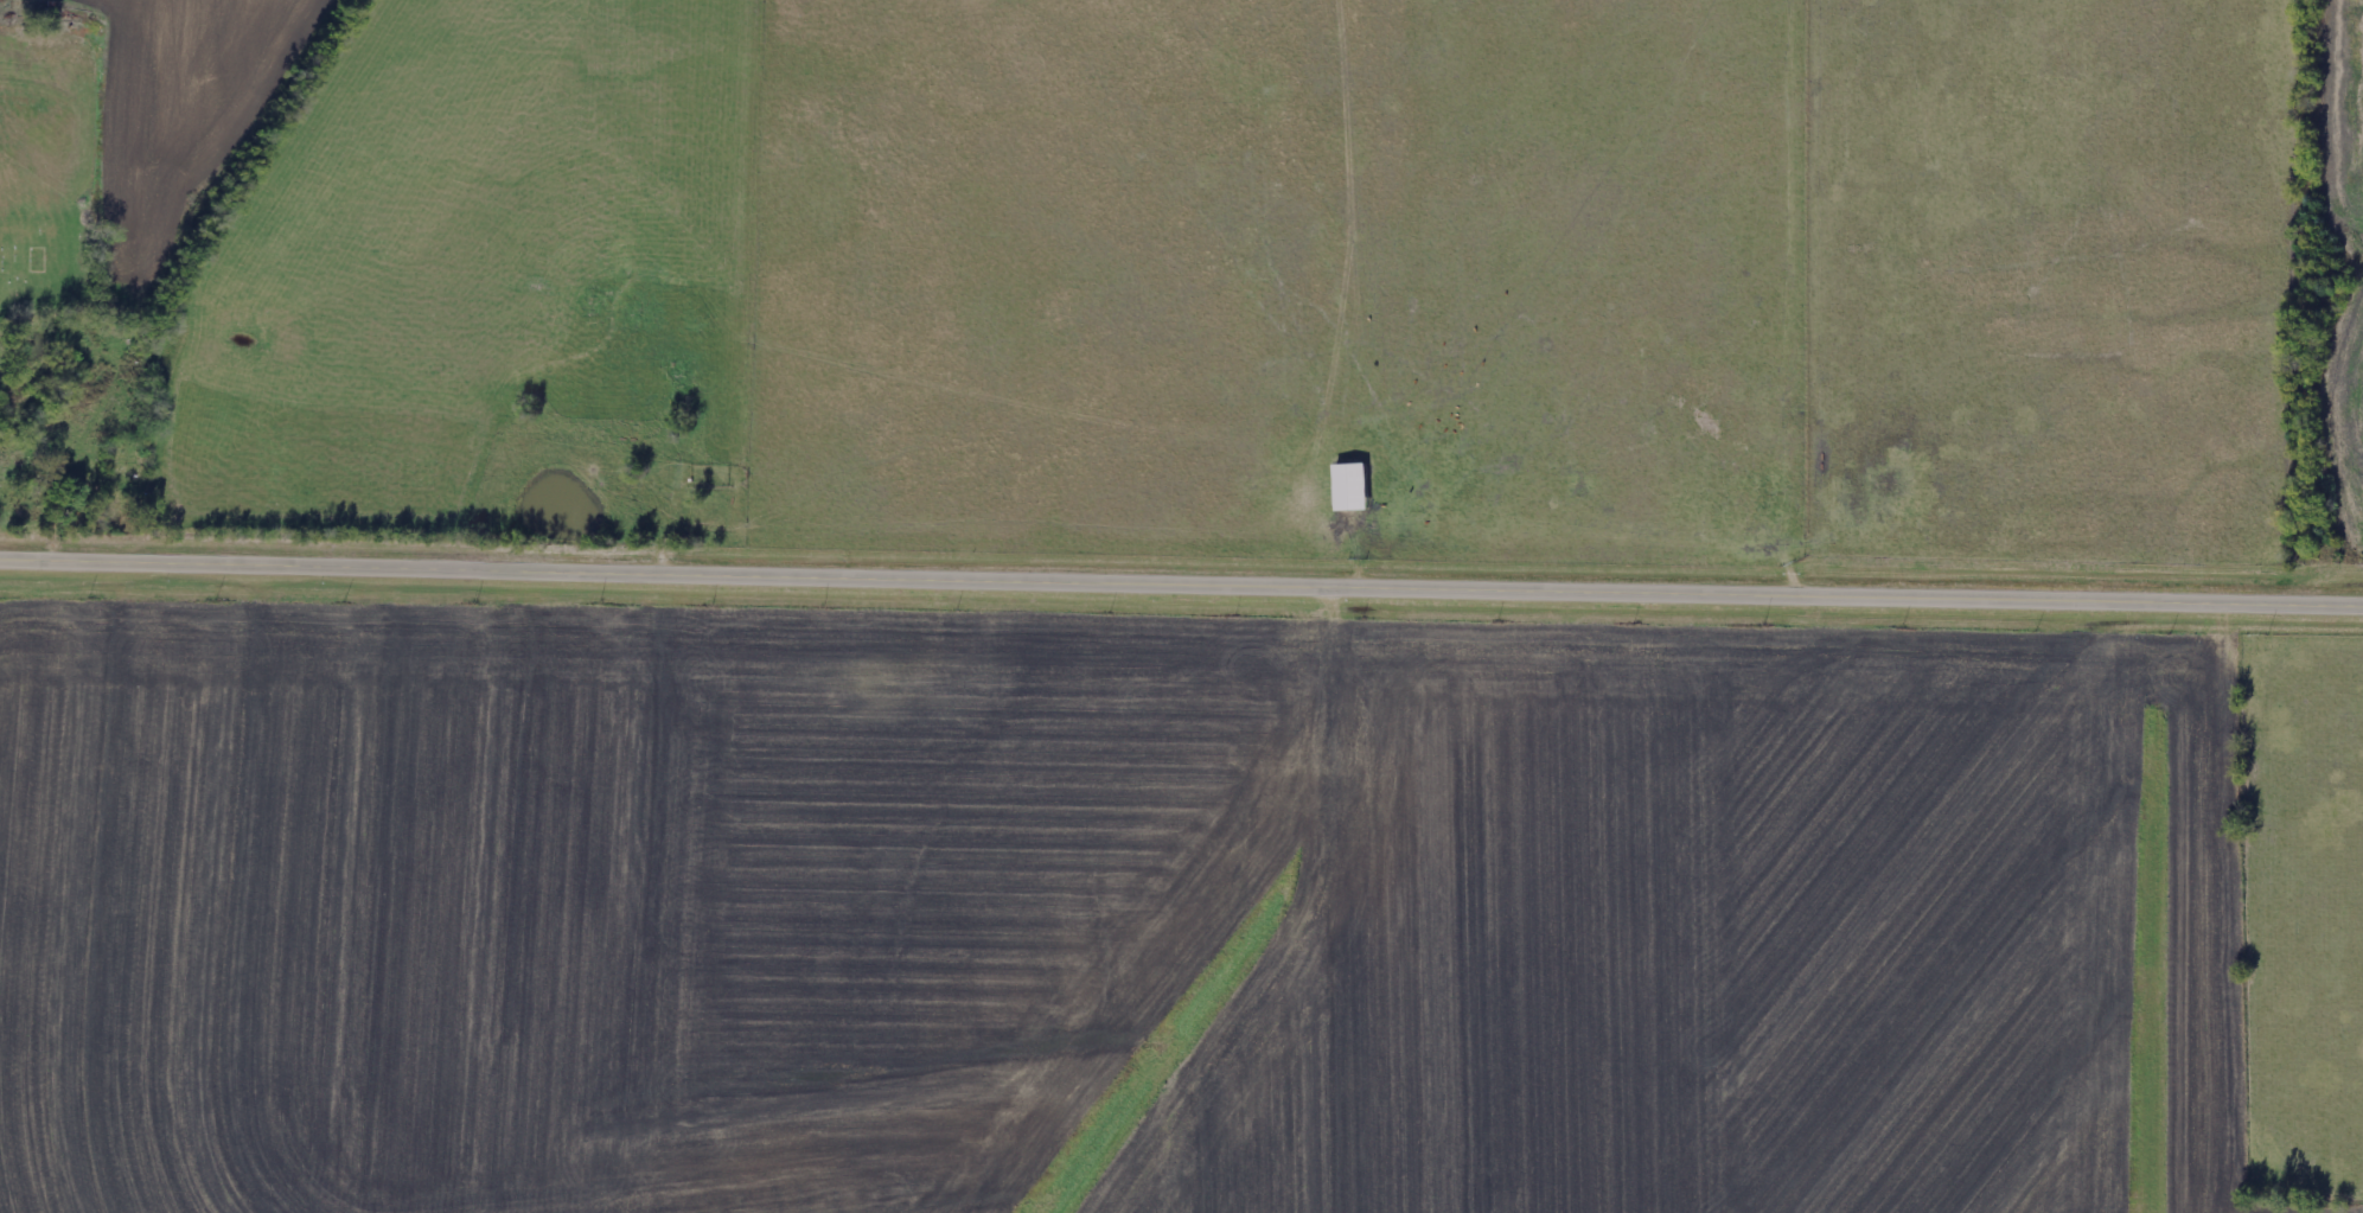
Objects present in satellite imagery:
park: (49, 170)
building: (1347, 489)
road: (1181, 579)

